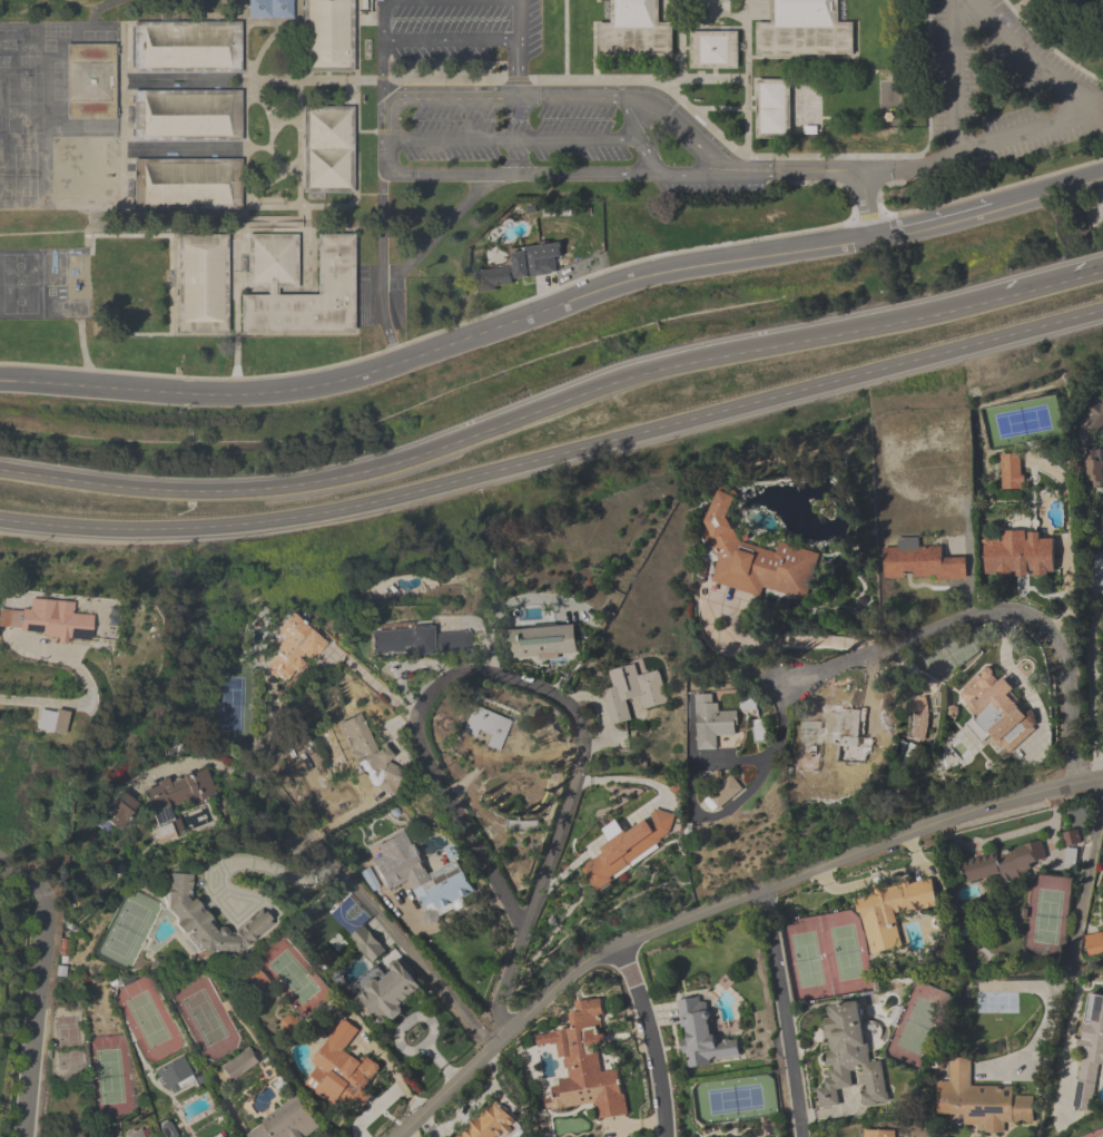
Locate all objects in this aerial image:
building: (269, 9)
road: (1007, 12)
road: (485, 22)
building: (804, 28)
building: (633, 30)
building: (328, 36)
building: (186, 46)
road: (1047, 47)
road: (382, 59)
building: (89, 72)
park: (1010, 91)
parking lot: (1065, 92)
building: (771, 107)
building: (181, 115)
road: (628, 117)
road: (387, 118)
road: (1021, 130)
road: (513, 139)
building: (327, 150)
road: (648, 157)
road: (791, 170)
road: (876, 170)
building: (170, 178)
road: (436, 232)
road: (747, 255)
building: (272, 261)
road: (382, 264)
building: (522, 267)
road: (1087, 275)
road: (1040, 287)
road: (200, 390)
building: (1095, 412)
road: (506, 424)
building: (1102, 435)
road: (555, 455)
building: (1093, 465)
building: (1008, 473)
building: (944, 506)
building: (1017, 556)
building: (755, 558)
building: (919, 561)
road: (994, 609)
building: (47, 621)
building: (417, 641)
building: (540, 645)
building: (294, 648)
road: (374, 684)
road: (539, 685)
building: (631, 692)
road: (1093, 692)
road: (60, 705)
building: (995, 713)
building: (710, 723)
building: (486, 727)
building: (829, 741)
building: (366, 754)
building: (904, 756)
building: (175, 803)
road: (719, 813)
road: (298, 824)
building: (623, 850)
road: (253, 863)
building: (1003, 863)
building: (417, 875)
road: (722, 905)
building: (892, 912)
building: (207, 921)
building: (367, 944)
building: (1094, 944)
road: (413, 963)
road: (1076, 976)
road: (40, 986)
building: (254, 988)
building: (388, 993)
road: (785, 1012)
building: (290, 1026)
building: (701, 1036)
road: (653, 1038)
building: (1089, 1051)
building: (849, 1058)
building: (239, 1065)
building: (587, 1067)
building: (341, 1069)
building: (175, 1076)
building: (981, 1102)
building: (286, 1121)
building: (493, 1124)
building: (135, 1134)
building: (878, 1134)
building: (219, 1136)

